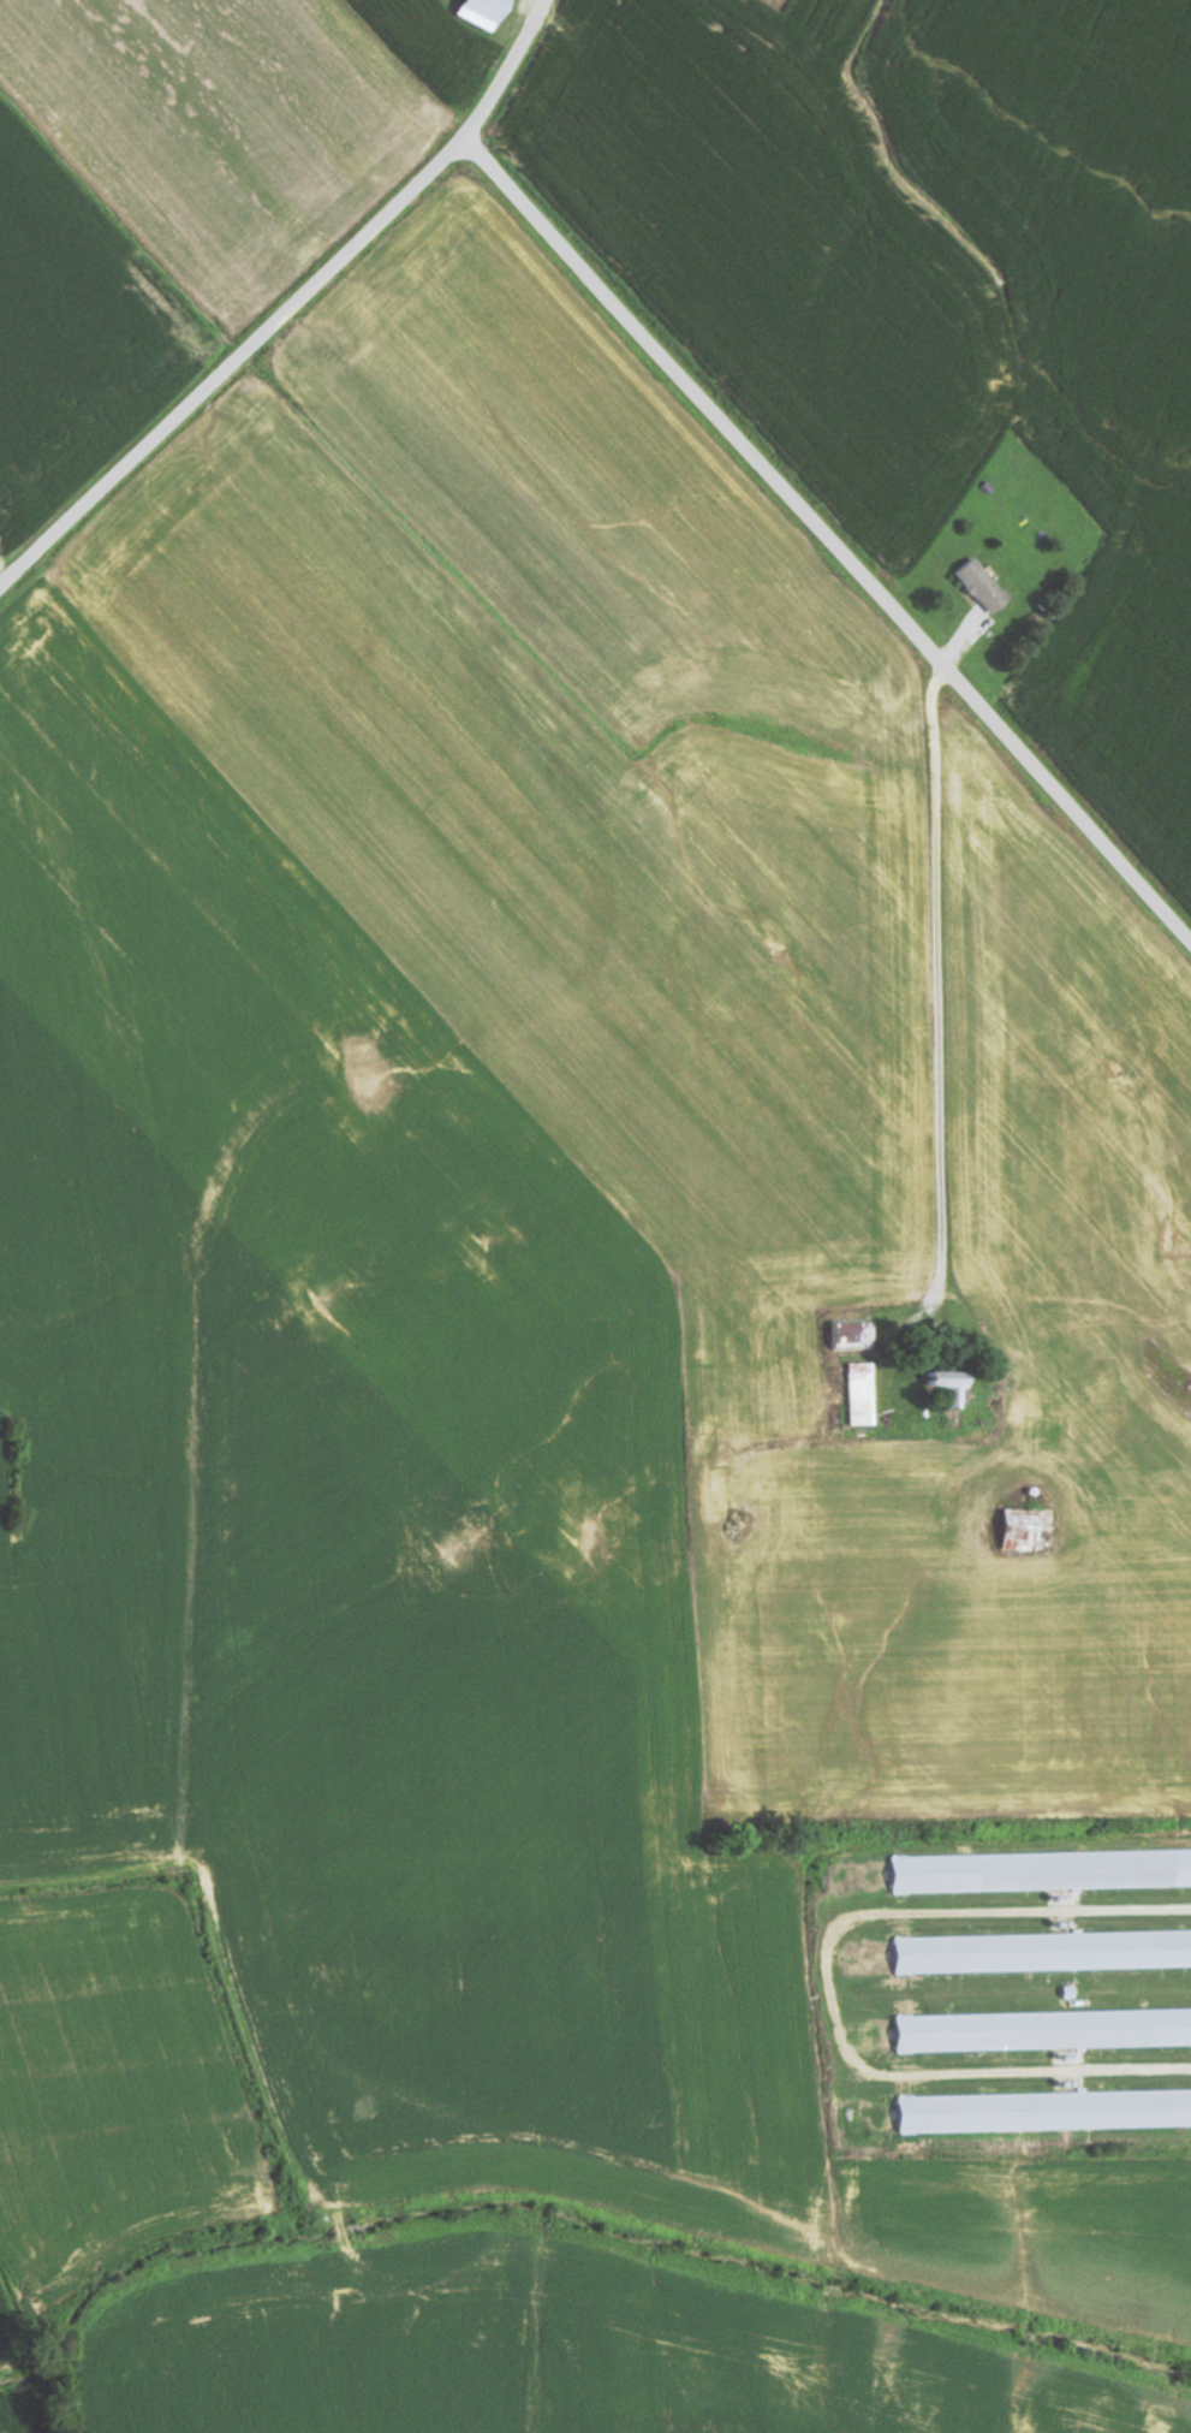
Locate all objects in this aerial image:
building: (490, 13)
road: (291, 307)
road: (828, 538)
building: (978, 586)
road: (947, 991)
building: (847, 1337)
building: (859, 1395)
building: (1016, 1531)
building: (1044, 1871)
building: (1046, 1952)
building: (1047, 2030)
building: (1047, 2112)

